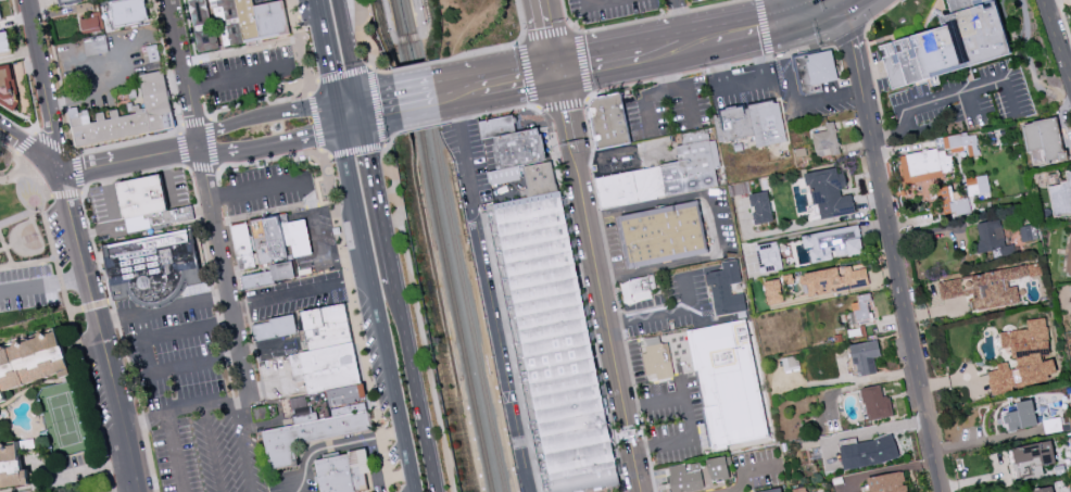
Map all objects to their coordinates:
road: (596, 1)
building: (70, 2)
traffic signals: (843, 2)
road: (340, 4)
building: (222, 10)
building: (129, 12)
building: (199, 12)
road: (416, 12)
road: (790, 13)
road: (819, 13)
road: (387, 15)
road: (660, 16)
road: (1064, 17)
building: (0, 20)
building: (256, 22)
road: (682, 22)
building: (90, 25)
railway: (418, 25)
traffic signals: (793, 26)
road: (765, 28)
road: (317, 29)
railway: (390, 31)
road: (756, 31)
road: (552, 35)
road: (849, 36)
road: (407, 37)
building: (206, 39)
road: (1057, 40)
building: (4, 42)
road: (695, 43)
building: (98, 45)
building: (954, 46)
road: (496, 49)
road: (868, 51)
road: (654, 52)
road: (351, 60)
road: (598, 63)
road: (412, 68)
road: (709, 70)
building: (822, 70)
road: (381, 71)
traffic signals: (560, 71)
road: (186, 73)
road: (255, 73)
road: (543, 73)
road: (344, 74)
road: (503, 81)
building: (7, 84)
road: (43, 84)
road: (739, 85)
road: (329, 87)
road: (679, 87)
road: (469, 89)
road: (448, 93)
road: (306, 94)
road: (946, 96)
road: (94, 97)
road: (589, 98)
road: (417, 100)
road: (791, 101)
road: (970, 102)
road: (646, 104)
road: (380, 108)
traffic signals: (363, 112)
road: (489, 113)
road: (349, 114)
building: (127, 115)
road: (264, 115)
traffic signals: (336, 117)
road: (315, 122)
building: (615, 122)
building: (759, 124)
road: (421, 126)
road: (923, 126)
building: (501, 127)
road: (11, 135)
road: (391, 135)
road: (156, 137)
road: (303, 137)
building: (1045, 138)
building: (831, 140)
building: (522, 149)
road: (357, 150)
road: (469, 150)
road: (231, 152)
road: (41, 155)
road: (622, 155)
building: (937, 156)
road: (129, 159)
road: (215, 162)
building: (667, 174)
road: (167, 179)
building: (545, 180)
building: (976, 185)
road: (81, 188)
road: (254, 188)
road: (83, 192)
building: (830, 192)
building: (1061, 195)
road: (20, 197)
road: (379, 197)
building: (147, 199)
building: (952, 202)
building: (761, 207)
road: (111, 213)
park: (23, 220)
road: (717, 225)
building: (1028, 232)
building: (666, 235)
building: (280, 239)
building: (993, 239)
road: (406, 243)
building: (833, 243)
building: (242, 244)
railway: (442, 245)
railway: (454, 245)
road: (319, 247)
road: (892, 247)
road: (342, 255)
building: (769, 256)
building: (1069, 256)
road: (345, 265)
building: (159, 270)
road: (227, 273)
building: (273, 277)
building: (835, 279)
road: (601, 281)
parking lot: (31, 283)
road: (42, 283)
building: (645, 287)
building: (987, 287)
building: (727, 289)
building: (1070, 290)
building: (773, 291)
road: (301, 294)
road: (373, 304)
road: (90, 305)
building: (864, 307)
road: (663, 313)
building: (279, 329)
road: (98, 330)
road: (179, 331)
road: (78, 342)
building: (558, 344)
road: (505, 351)
building: (866, 356)
building: (1024, 357)
building: (31, 362)
building: (660, 362)
building: (790, 363)
road: (151, 370)
road: (269, 383)
building: (730, 383)
road: (417, 387)
building: (328, 389)
building: (877, 403)
road: (187, 407)
parking lot: (198, 407)
building: (301, 408)
building: (261, 413)
building: (1021, 416)
road: (688, 417)
park: (65, 419)
road: (243, 445)
road: (335, 447)
road: (212, 449)
road: (175, 452)
building: (869, 452)
building: (1032, 458)
building: (12, 467)
building: (718, 468)
road: (89, 470)
road: (752, 471)
building: (348, 472)
road: (390, 477)
building: (686, 477)
building: (887, 482)
road: (29, 488)
road: (128, 490)
building: (772, 490)
building: (1043, 490)

